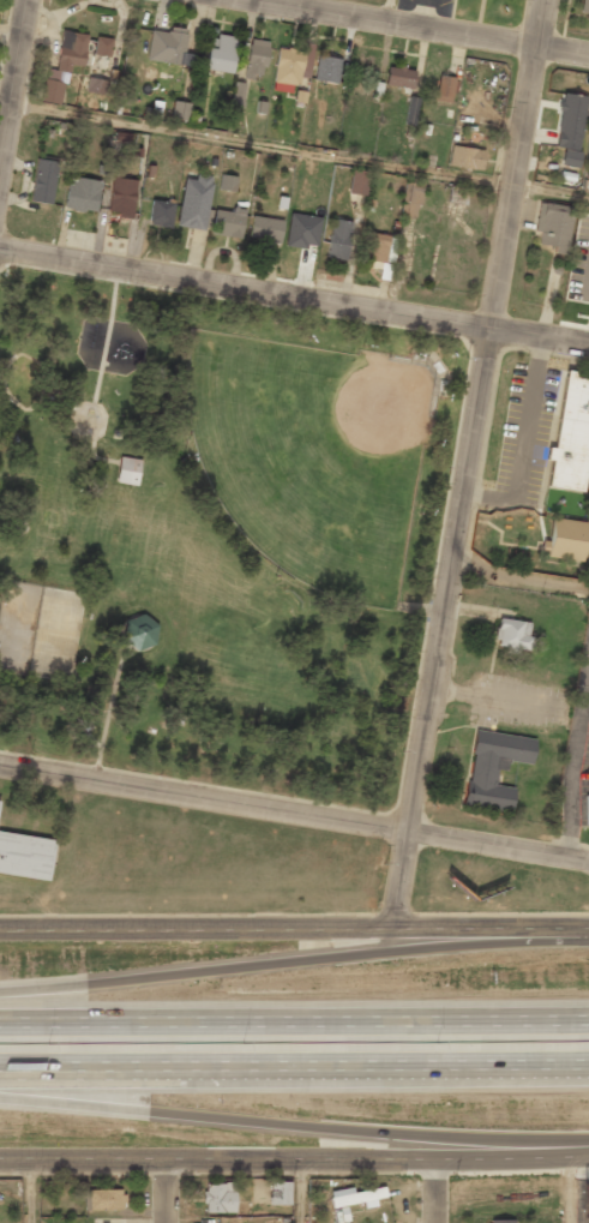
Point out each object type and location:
building: (584, 6)
road: (419, 26)
building: (102, 46)
building: (168, 47)
building: (218, 53)
building: (256, 59)
building: (101, 61)
building: (62, 65)
building: (326, 68)
building: (289, 70)
road: (12, 76)
building: (398, 77)
building: (95, 85)
building: (444, 89)
building: (236, 96)
building: (179, 110)
building: (569, 127)
road: (297, 150)
building: (462, 156)
building: (43, 181)
building: (227, 182)
building: (357, 182)
building: (82, 194)
building: (120, 194)
building: (457, 194)
building: (410, 199)
building: (193, 202)
building: (161, 214)
building: (228, 222)
building: (553, 226)
building: (265, 229)
building: (302, 230)
building: (337, 239)
building: (379, 253)
road: (242, 290)
road: (537, 337)
building: (571, 437)
park: (311, 455)
road: (465, 463)
building: (127, 470)
park: (215, 534)
building: (565, 540)
building: (138, 631)
building: (512, 634)
building: (494, 767)
road: (203, 796)
road: (498, 840)
building: (25, 856)
road: (281, 928)
road: (576, 930)
road: (281, 958)
road: (294, 1023)
road: (294, 1066)
road: (294, 1126)
road: (294, 1158)
road: (570, 1189)
road: (31, 1191)
road: (164, 1191)
road: (299, 1191)
road: (433, 1191)
building: (280, 1192)
building: (218, 1197)
building: (355, 1197)
building: (102, 1199)
building: (500, 1221)

